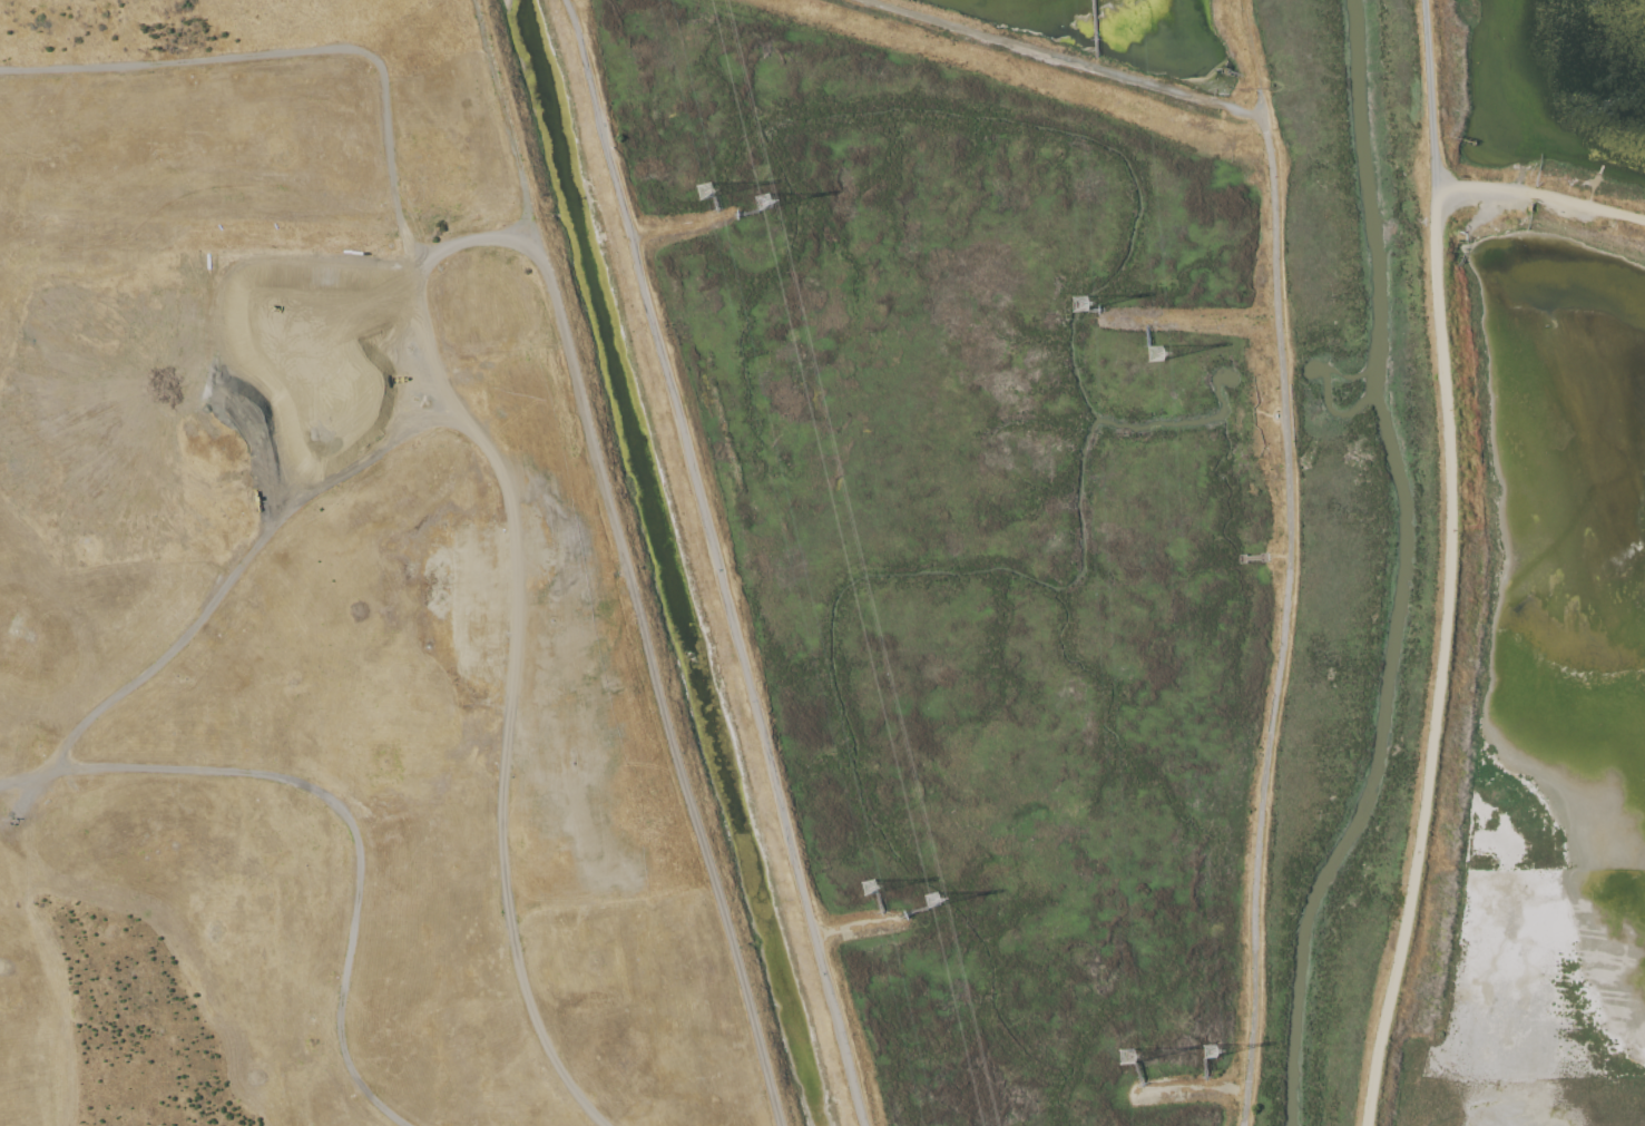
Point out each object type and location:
pier: (1093, 28)
road: (301, 50)
road: (1071, 57)
road: (1253, 57)
road: (1429, 92)
power tower: (704, 189)
road: (1540, 195)
power tower: (762, 200)
pier: (715, 204)
pier: (746, 214)
road: (682, 225)
power tower: (1078, 302)
pier: (1094, 309)
pier: (1146, 334)
power tower: (1155, 352)
road: (1264, 556)
road: (715, 561)
road: (628, 562)
road: (214, 599)
park: (361, 604)
road: (516, 611)
road: (1284, 620)
road: (1440, 657)
road: (342, 811)
power tower: (869, 885)
pier: (879, 901)
power tower: (934, 903)
pier: (912, 911)
road: (91, 971)
power tower: (1208, 1050)
power tower: (1125, 1055)
pier: (1204, 1068)
pier: (1137, 1074)
road: (135, 1089)

